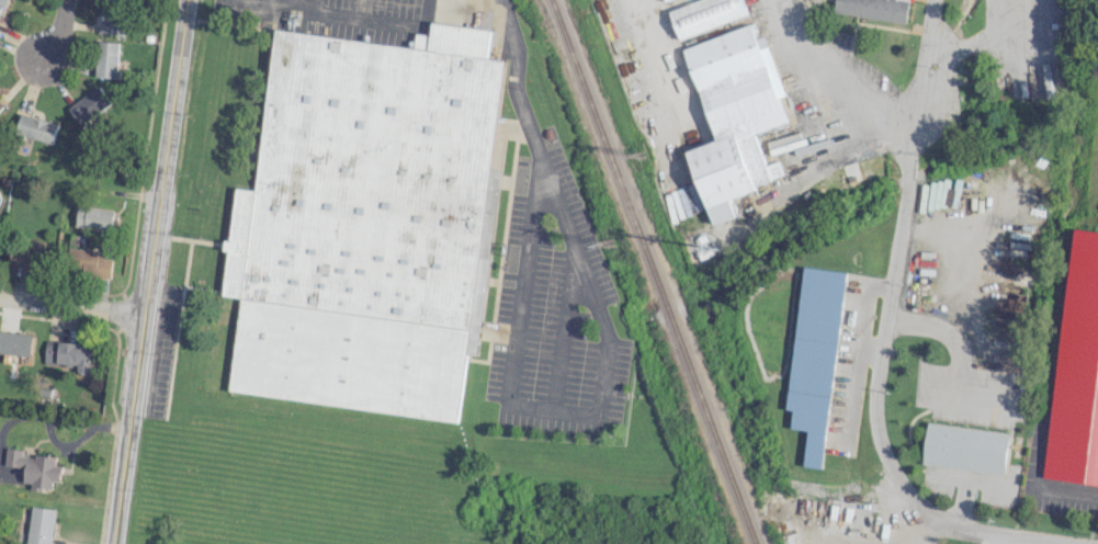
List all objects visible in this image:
building: (663, 0)
railway: (523, 2)
building: (1, 4)
road: (451, 8)
building: (873, 9)
building: (111, 16)
building: (703, 16)
road: (54, 34)
building: (105, 59)
road: (664, 63)
road: (924, 78)
road: (826, 98)
building: (0, 102)
building: (88, 106)
building: (732, 117)
building: (35, 128)
power tower: (639, 156)
road: (785, 193)
building: (94, 218)
building: (366, 220)
power tower: (609, 246)
building: (27, 256)
building: (94, 261)
road: (148, 272)
railway: (653, 272)
road: (71, 307)
road: (951, 338)
building: (15, 343)
road: (883, 347)
building: (811, 348)
building: (68, 355)
building: (966, 447)
building: (34, 468)
road: (1067, 491)
road: (963, 501)
building: (41, 525)
road: (1007, 533)
road: (989, 537)

